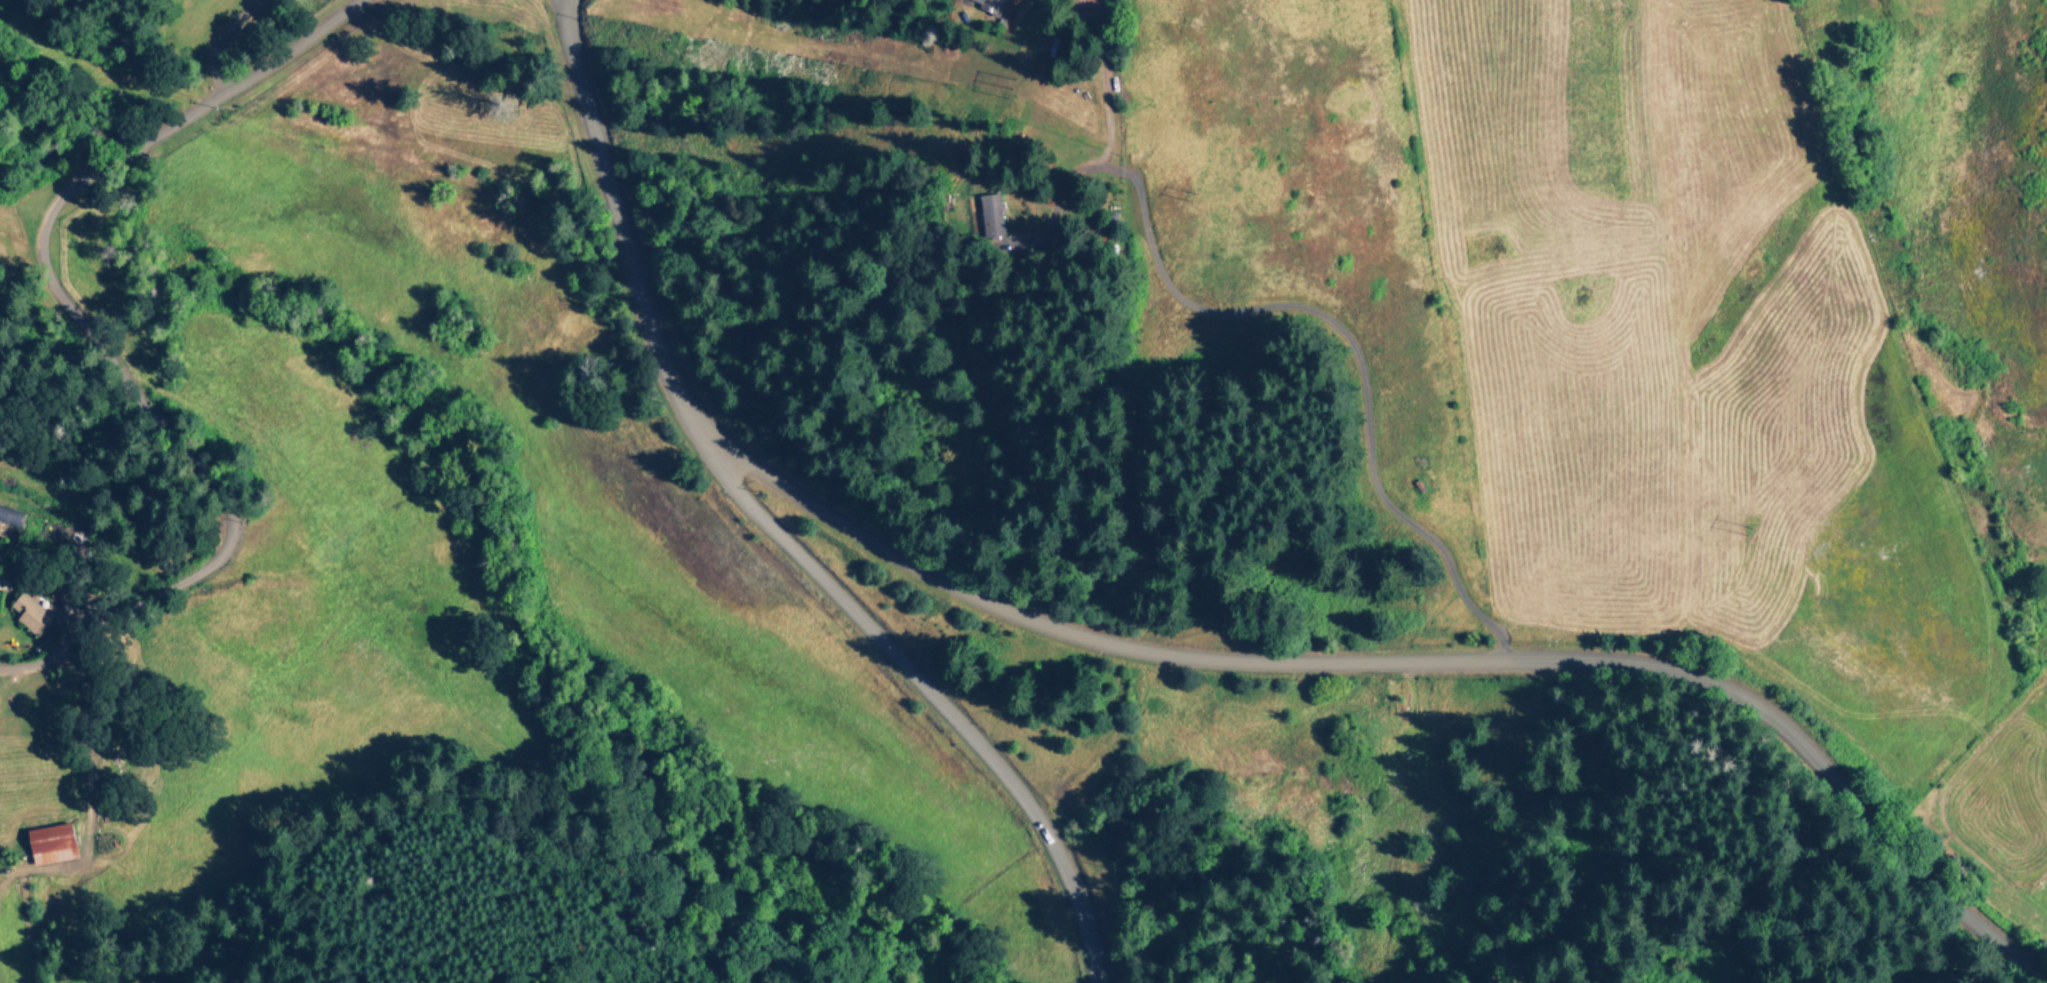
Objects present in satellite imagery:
building: (1010, 0)
building: (989, 5)
road: (216, 39)
road: (1111, 124)
building: (994, 215)
crop: (1702, 339)
road: (96, 341)
building: (32, 613)
road: (1178, 655)
road: (933, 697)
road: (83, 733)
building: (53, 844)

